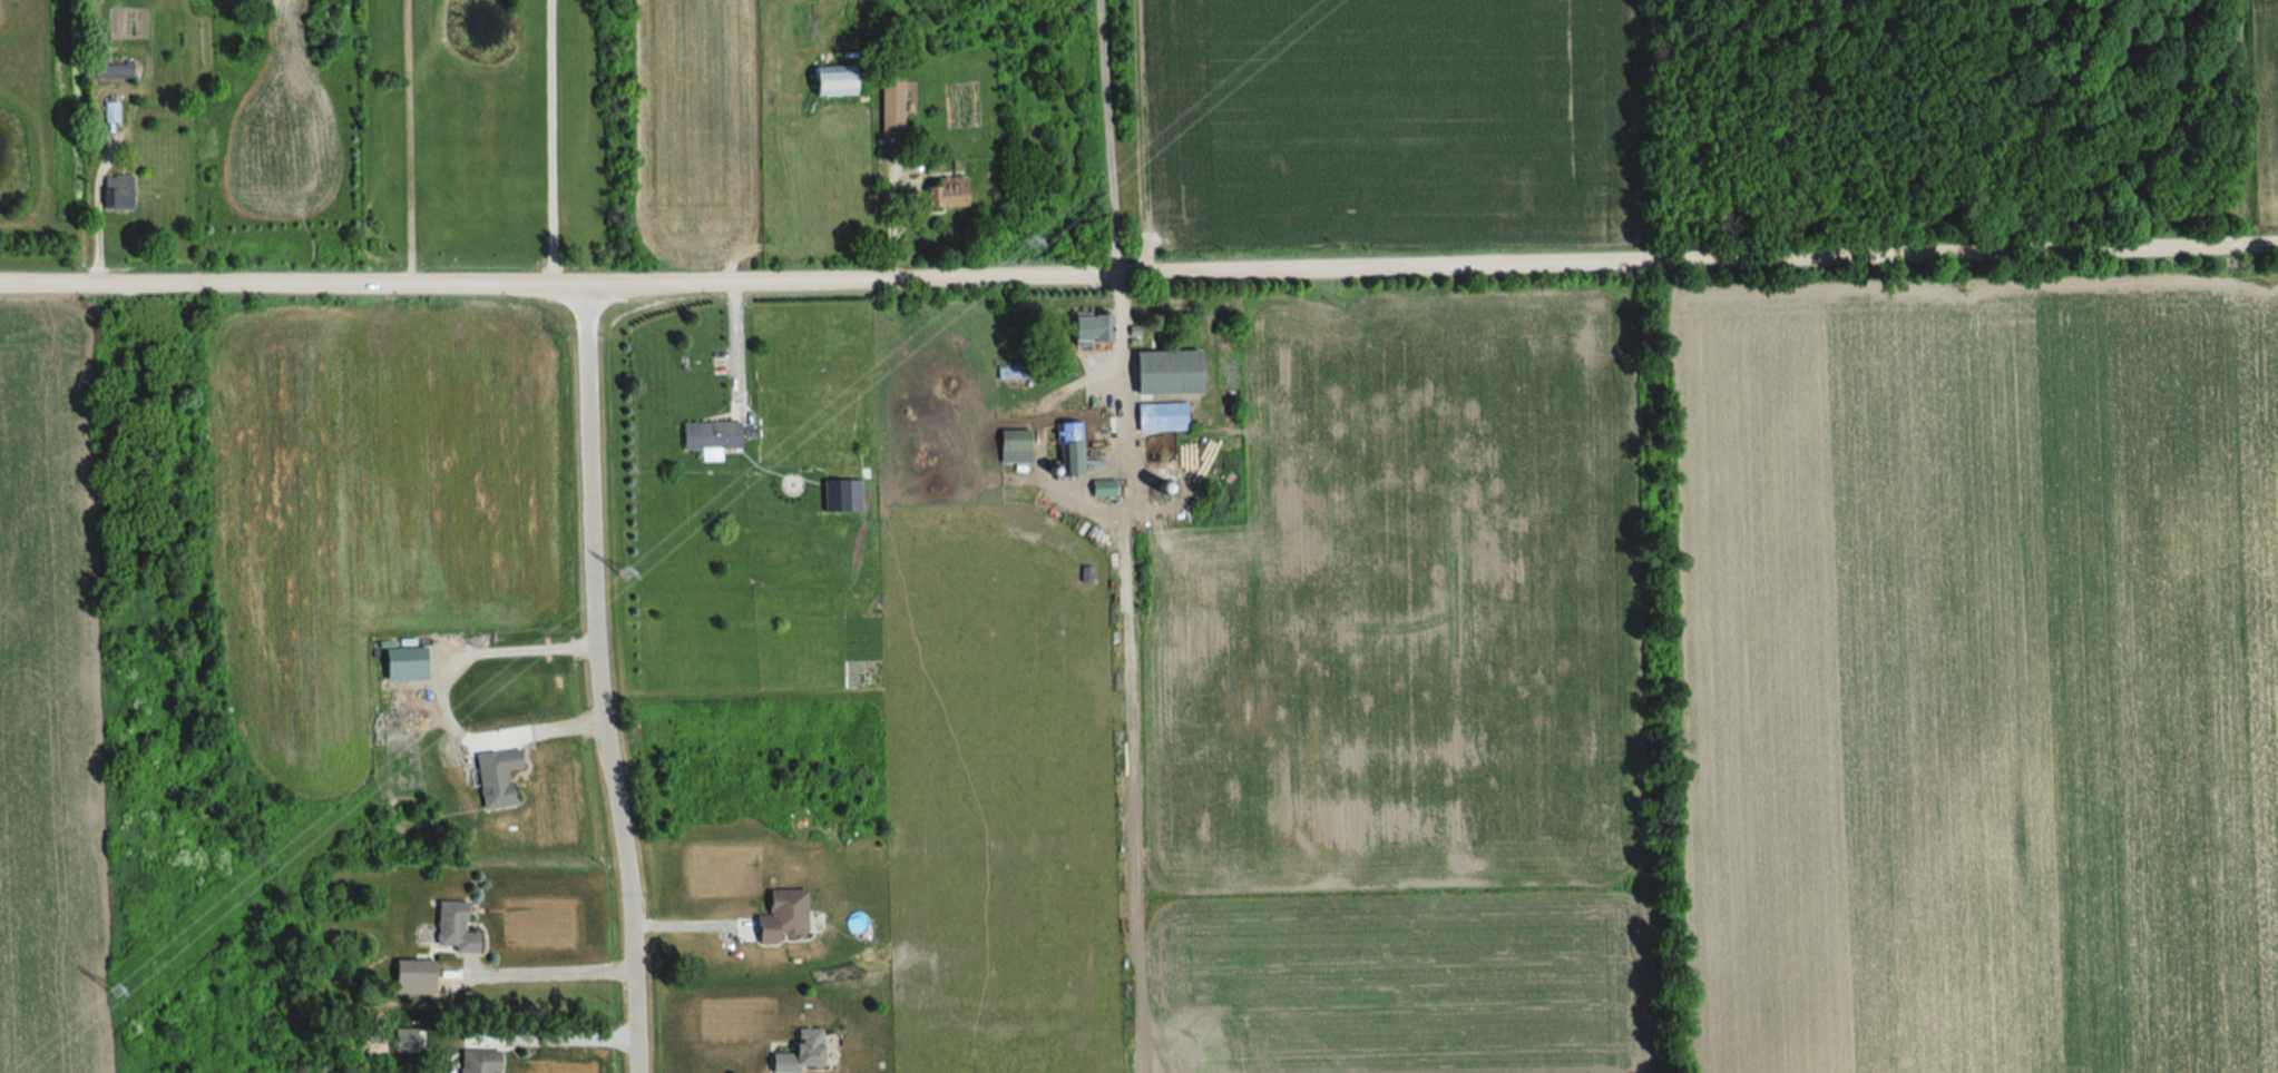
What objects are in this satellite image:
building: (111, 72)
building: (829, 82)
crop: (2267, 101)
building: (890, 109)
building: (109, 114)
crop: (1387, 122)
crop: (281, 130)
crop: (695, 131)
road: (1108, 135)
road: (404, 141)
road: (542, 141)
building: (116, 194)
building: (947, 194)
power tower: (1017, 249)
road: (1138, 269)
road: (740, 343)
building: (1163, 374)
road: (1127, 378)
building: (1160, 419)
building: (707, 440)
building: (1010, 442)
building: (1070, 450)
building: (1098, 490)
power tower: (625, 579)
crop: (1979, 671)
road: (600, 678)
road: (440, 692)
crop: (1408, 701)
crop: (50, 705)
building: (492, 777)
building: (779, 916)
road: (698, 927)
building: (451, 929)
road: (539, 967)
building: (409, 975)
power tower: (118, 993)
road: (568, 1040)
building: (794, 1052)
building: (475, 1062)

